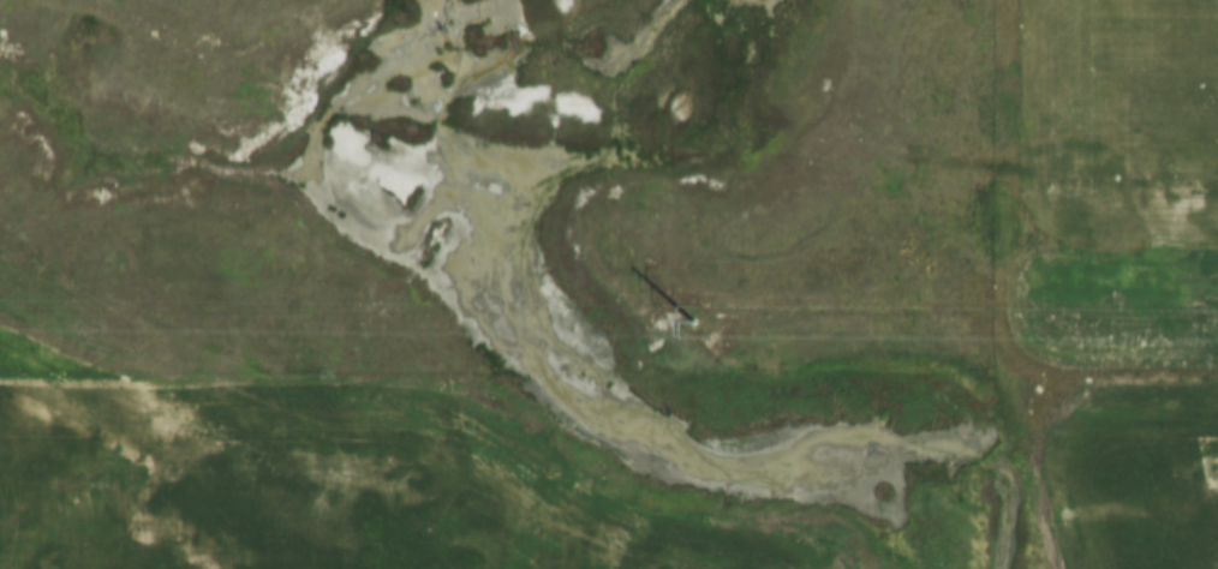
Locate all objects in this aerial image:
power tower: (699, 319)

